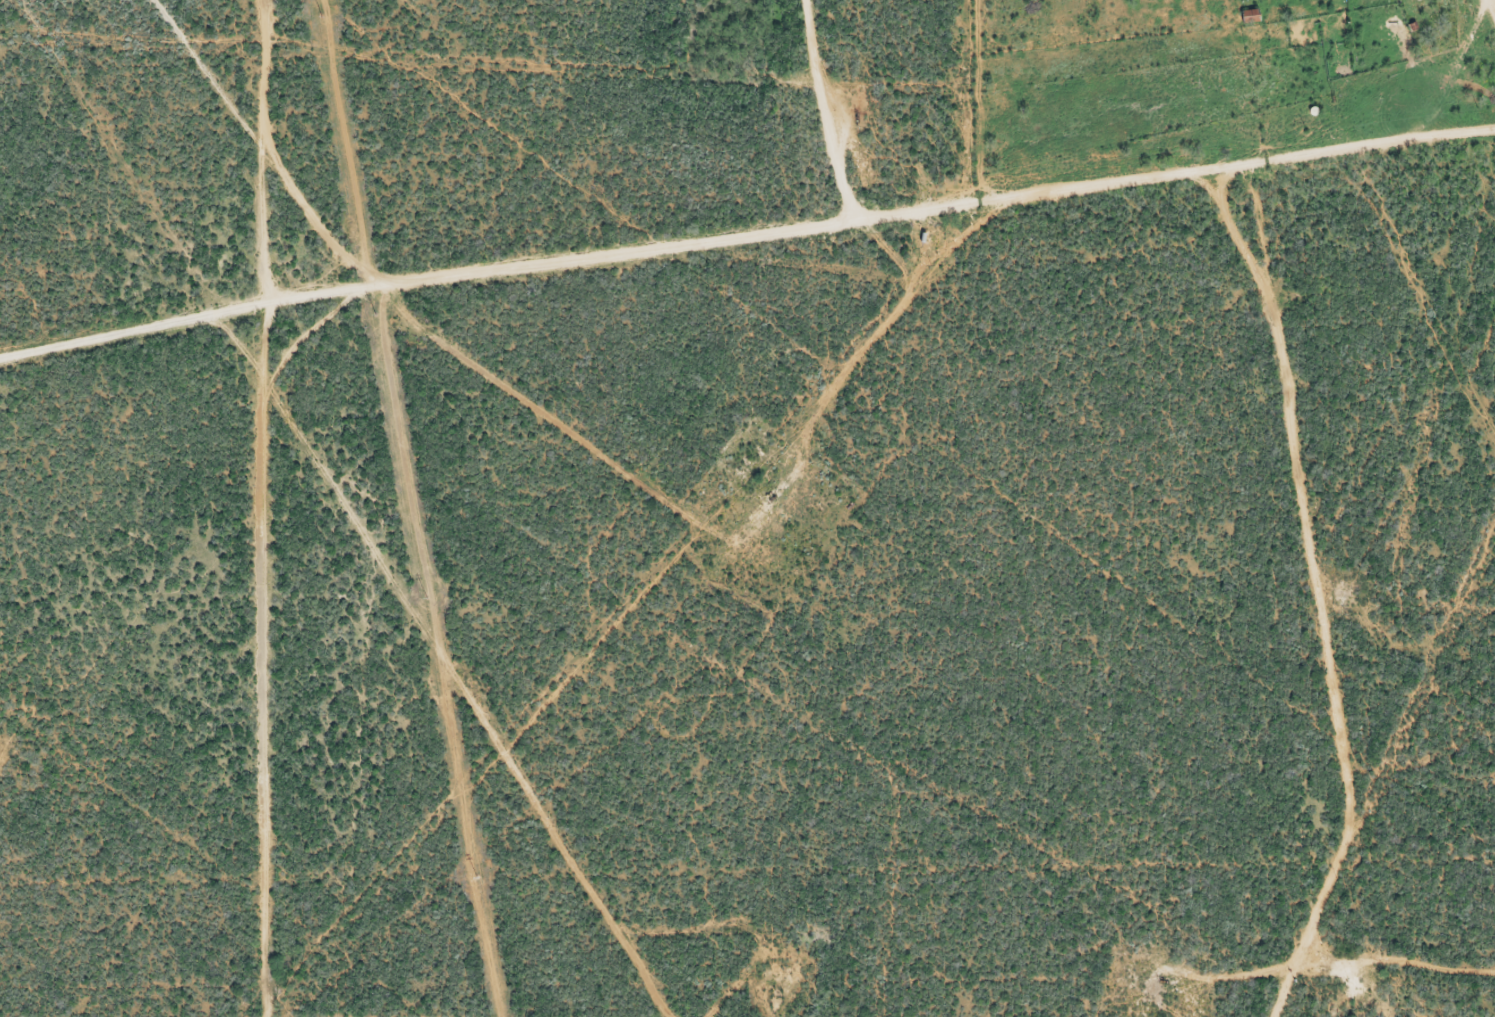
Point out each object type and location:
power tower: (321, 16)
road: (747, 274)
power tower: (375, 314)
road: (285, 508)
road: (1339, 591)
power tower: (427, 596)
power tower: (478, 876)

